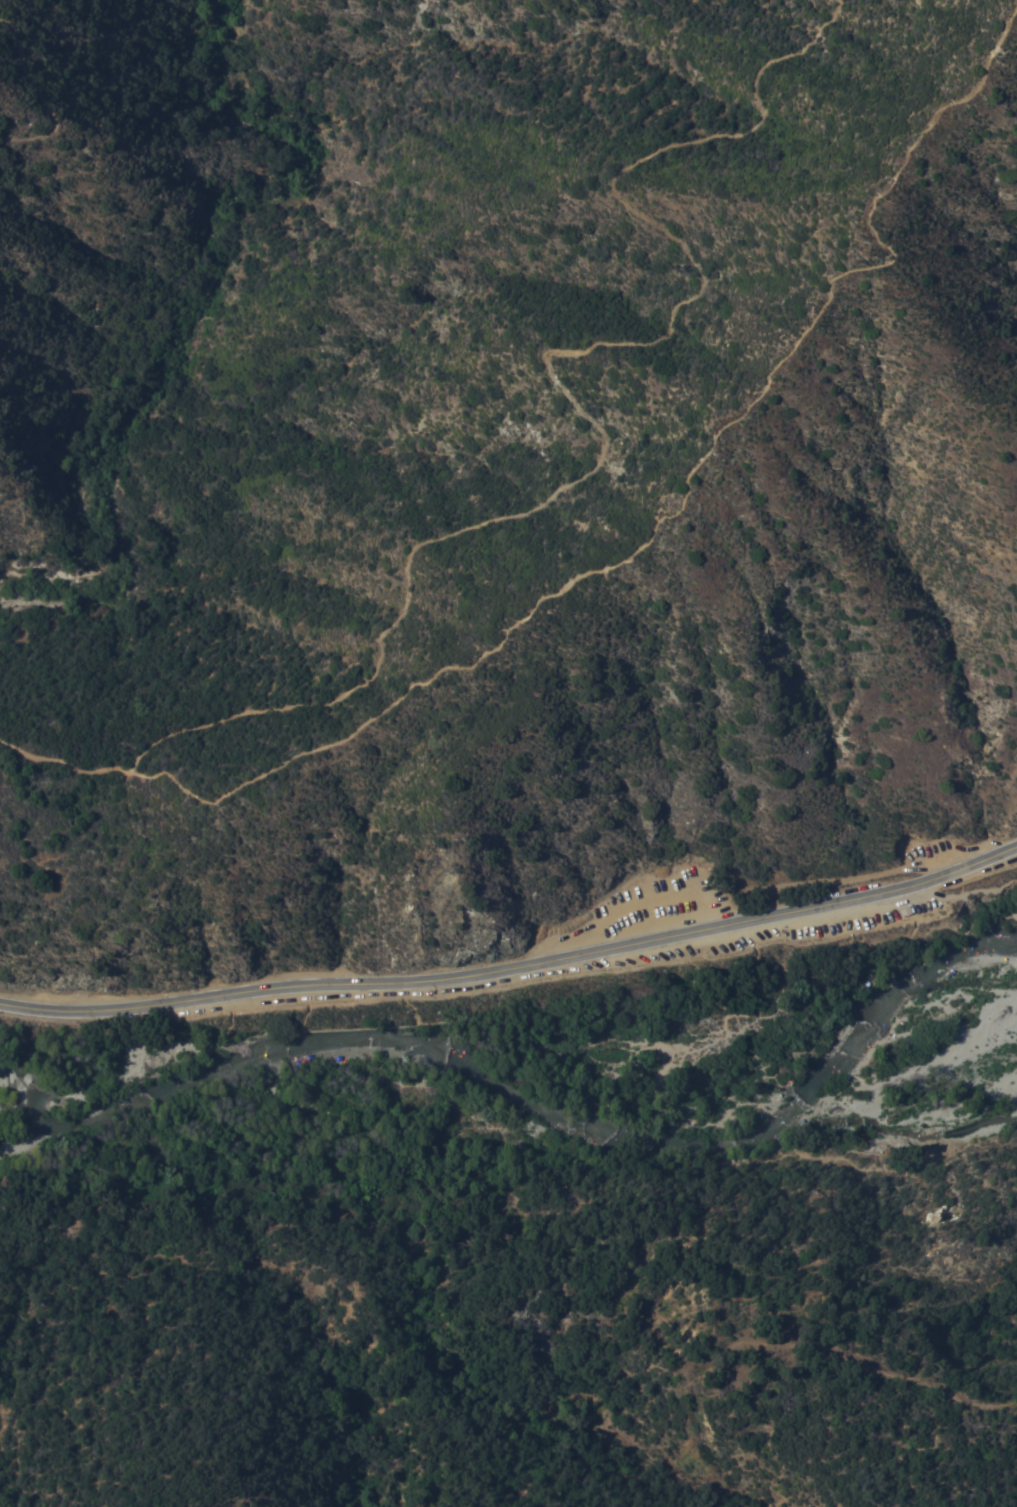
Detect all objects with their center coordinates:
road: (39, 97)
road: (560, 385)
road: (683, 501)
road: (63, 761)
parking lot: (659, 907)
road: (514, 968)
river: (502, 1077)

